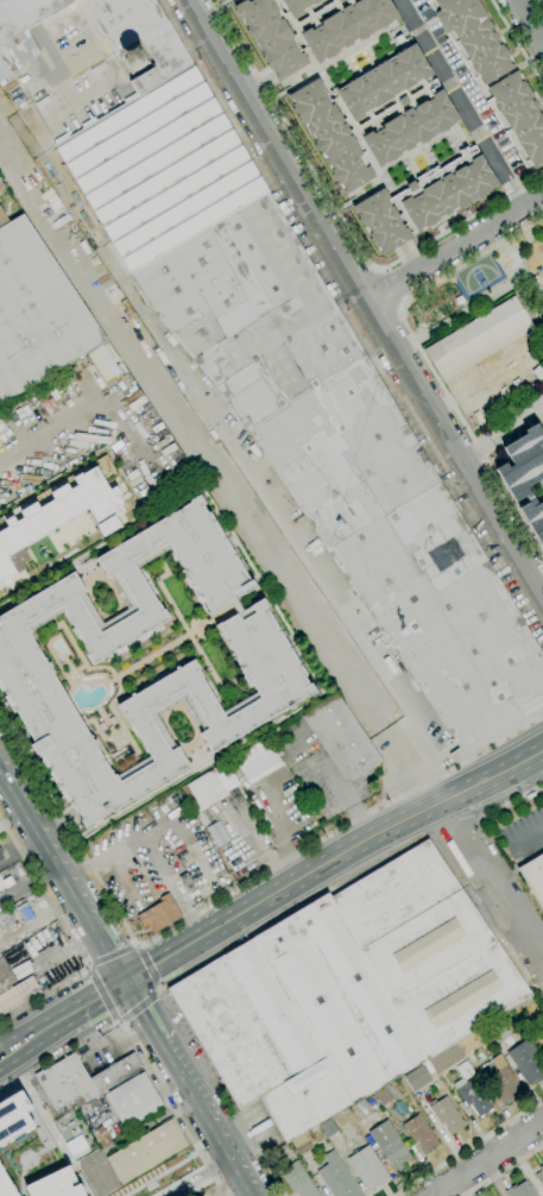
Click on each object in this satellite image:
road: (542, 1)
road: (526, 26)
building: (309, 29)
building: (21, 30)
building: (141, 38)
building: (474, 38)
road: (516, 44)
water tower: (135, 61)
road: (460, 102)
building: (373, 115)
building: (519, 115)
road: (276, 196)
building: (425, 200)
road: (341, 219)
road: (455, 245)
road: (519, 270)
park: (476, 276)
park: (474, 285)
road: (368, 297)
building: (459, 300)
road: (468, 307)
building: (36, 313)
building: (478, 339)
road: (428, 361)
building: (538, 371)
building: (307, 397)
road: (80, 418)
building: (2, 428)
road: (501, 430)
road: (219, 474)
building: (524, 477)
road: (329, 591)
building: (267, 662)
building: (112, 720)
building: (102, 726)
building: (341, 737)
building: (258, 760)
building: (208, 789)
road: (511, 801)
road: (337, 827)
road: (69, 830)
road: (279, 833)
road: (529, 837)
building: (0, 851)
road: (333, 857)
building: (1, 858)
road: (63, 871)
building: (533, 877)
building: (6, 882)
building: (187, 882)
road: (486, 885)
building: (24, 912)
building: (159, 914)
road: (71, 936)
road: (135, 946)
road: (139, 948)
building: (429, 948)
road: (112, 955)
road: (89, 962)
road: (149, 967)
road: (87, 970)
traffic signals: (127, 978)
road: (158, 988)
building: (13, 989)
road: (157, 992)
road: (101, 995)
building: (339, 997)
road: (139, 1007)
road: (63, 1016)
road: (113, 1022)
road: (122, 1022)
building: (498, 1032)
building: (257, 1040)
road: (163, 1041)
building: (469, 1043)
road: (137, 1049)
road: (106, 1056)
building: (526, 1062)
building: (116, 1072)
building: (434, 1078)
building: (462, 1078)
building: (500, 1081)
building: (67, 1083)
building: (385, 1094)
building: (132, 1100)
building: (358, 1110)
building: (447, 1114)
building: (13, 1116)
building: (328, 1128)
road: (216, 1132)
building: (419, 1133)
building: (100, 1135)
building: (301, 1144)
building: (389, 1145)
road: (468, 1147)
building: (146, 1151)
road: (486, 1158)
building: (367, 1167)
road: (504, 1170)
building: (539, 1175)
road: (273, 1176)
building: (336, 1177)
road: (242, 1178)
building: (297, 1181)
building: (53, 1184)
building: (5, 1186)
building: (520, 1190)

